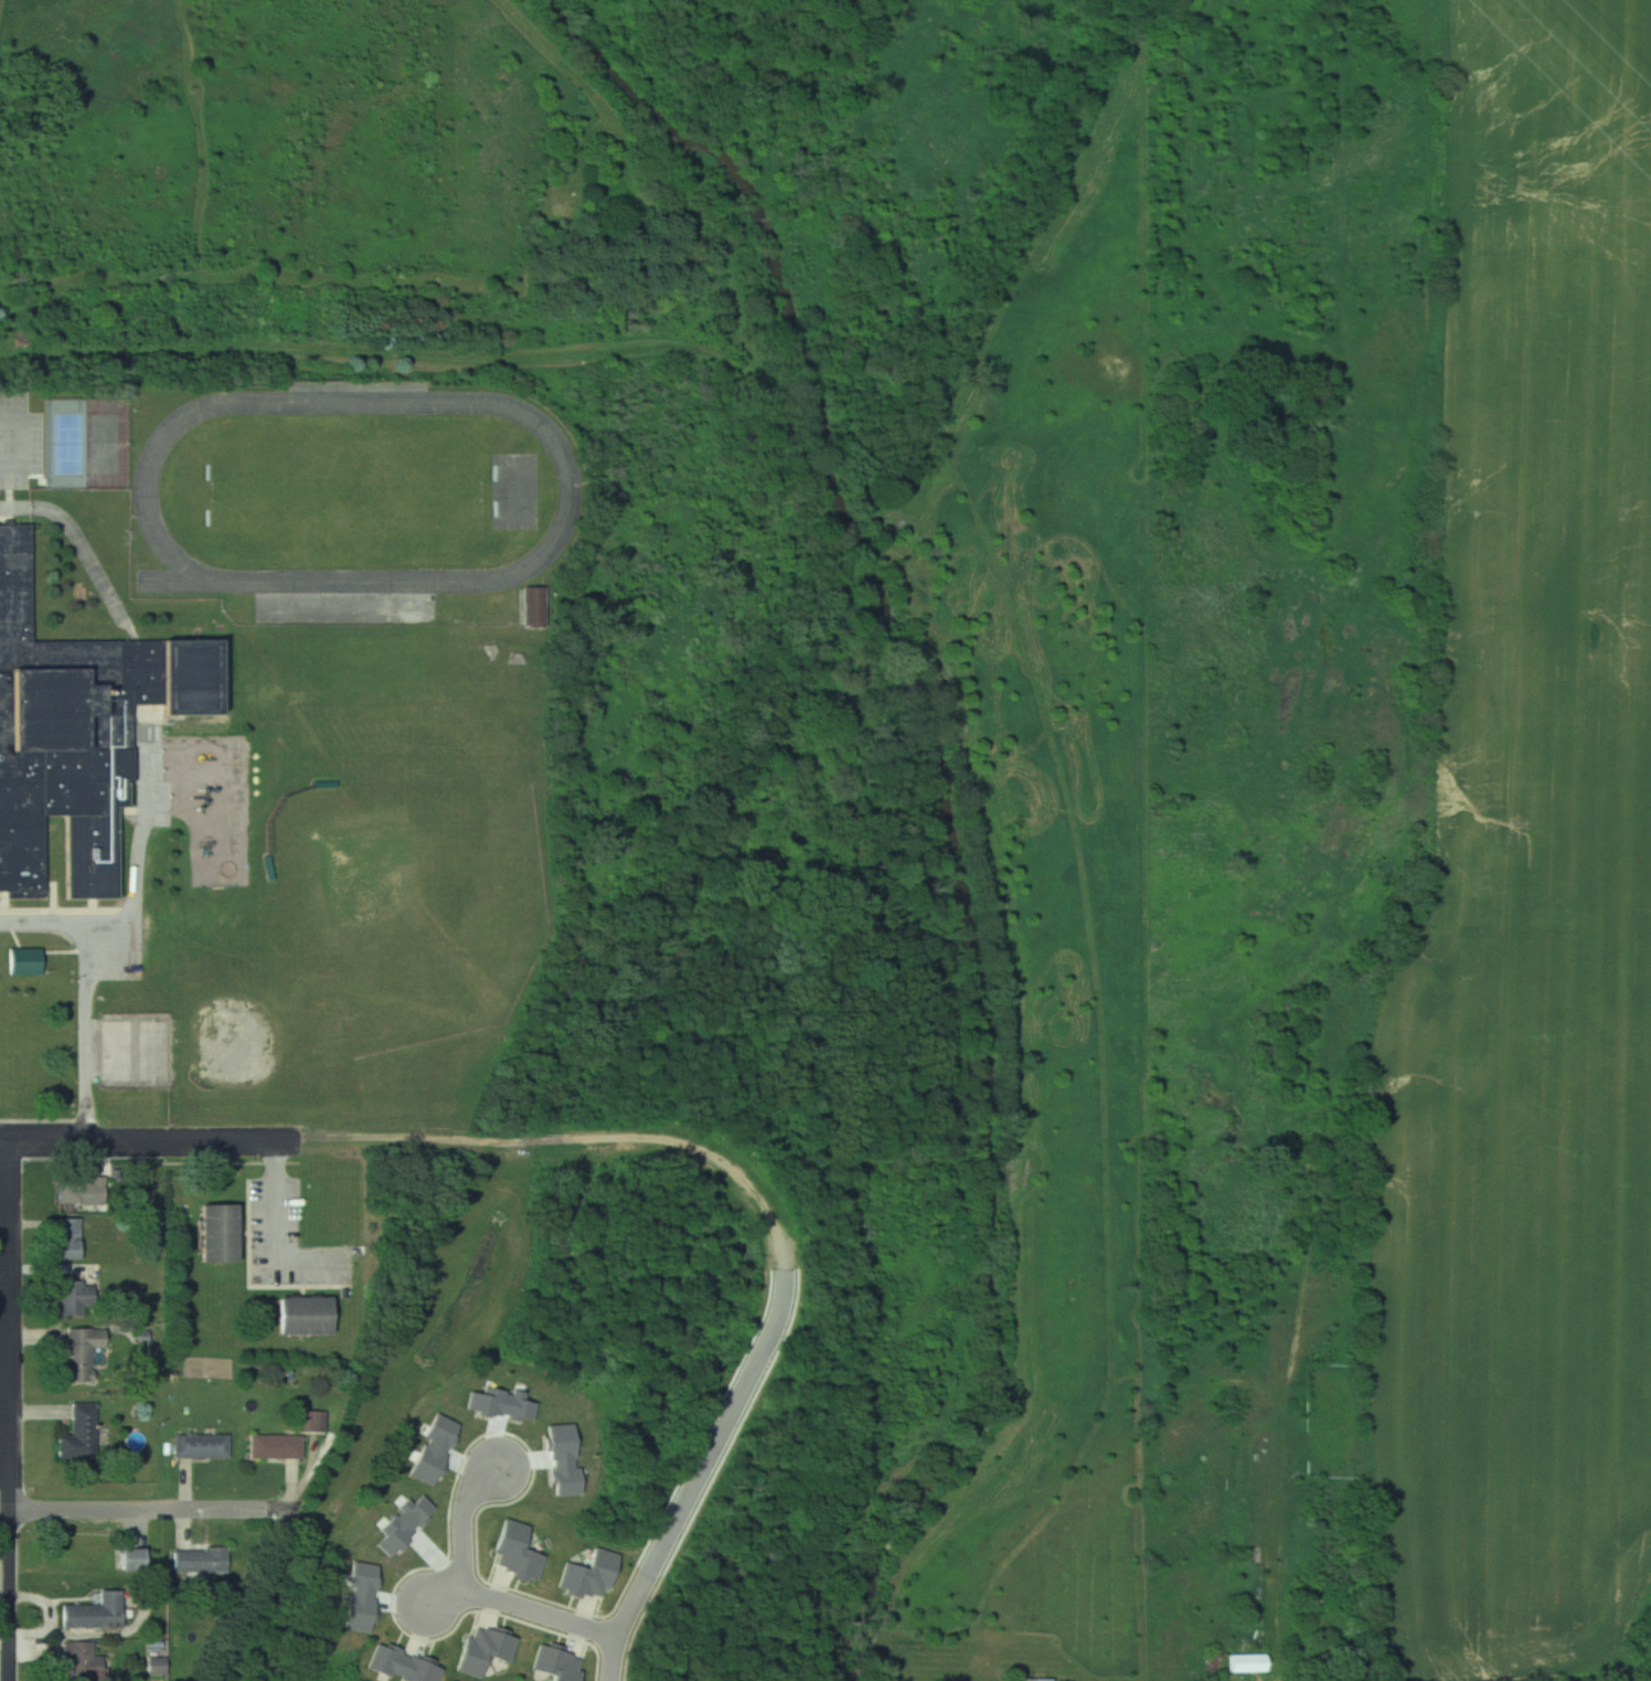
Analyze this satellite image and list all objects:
park: (63, 445)
park: (347, 491)
road: (74, 533)
building: (533, 606)
building: (75, 732)
park: (418, 901)
building: (23, 961)
road: (89, 992)
road: (150, 1141)
building: (78, 1191)
road: (277, 1224)
building: (215, 1234)
building: (67, 1240)
road: (4, 1267)
building: (74, 1299)
building: (301, 1316)
road: (9, 1326)
building: (81, 1352)
building: (311, 1421)
building: (79, 1433)
building: (200, 1447)
building: (275, 1447)
road: (686, 1504)
road: (150, 1510)
road: (6, 1511)
road: (459, 1524)
building: (83, 1558)
building: (130, 1558)
building: (200, 1560)
road: (457, 1592)
road: (11, 1596)
building: (94, 1611)
building: (1215, 1659)
building: (83, 1660)
building: (1246, 1662)
building: (157, 1666)
building: (1031, 1679)

